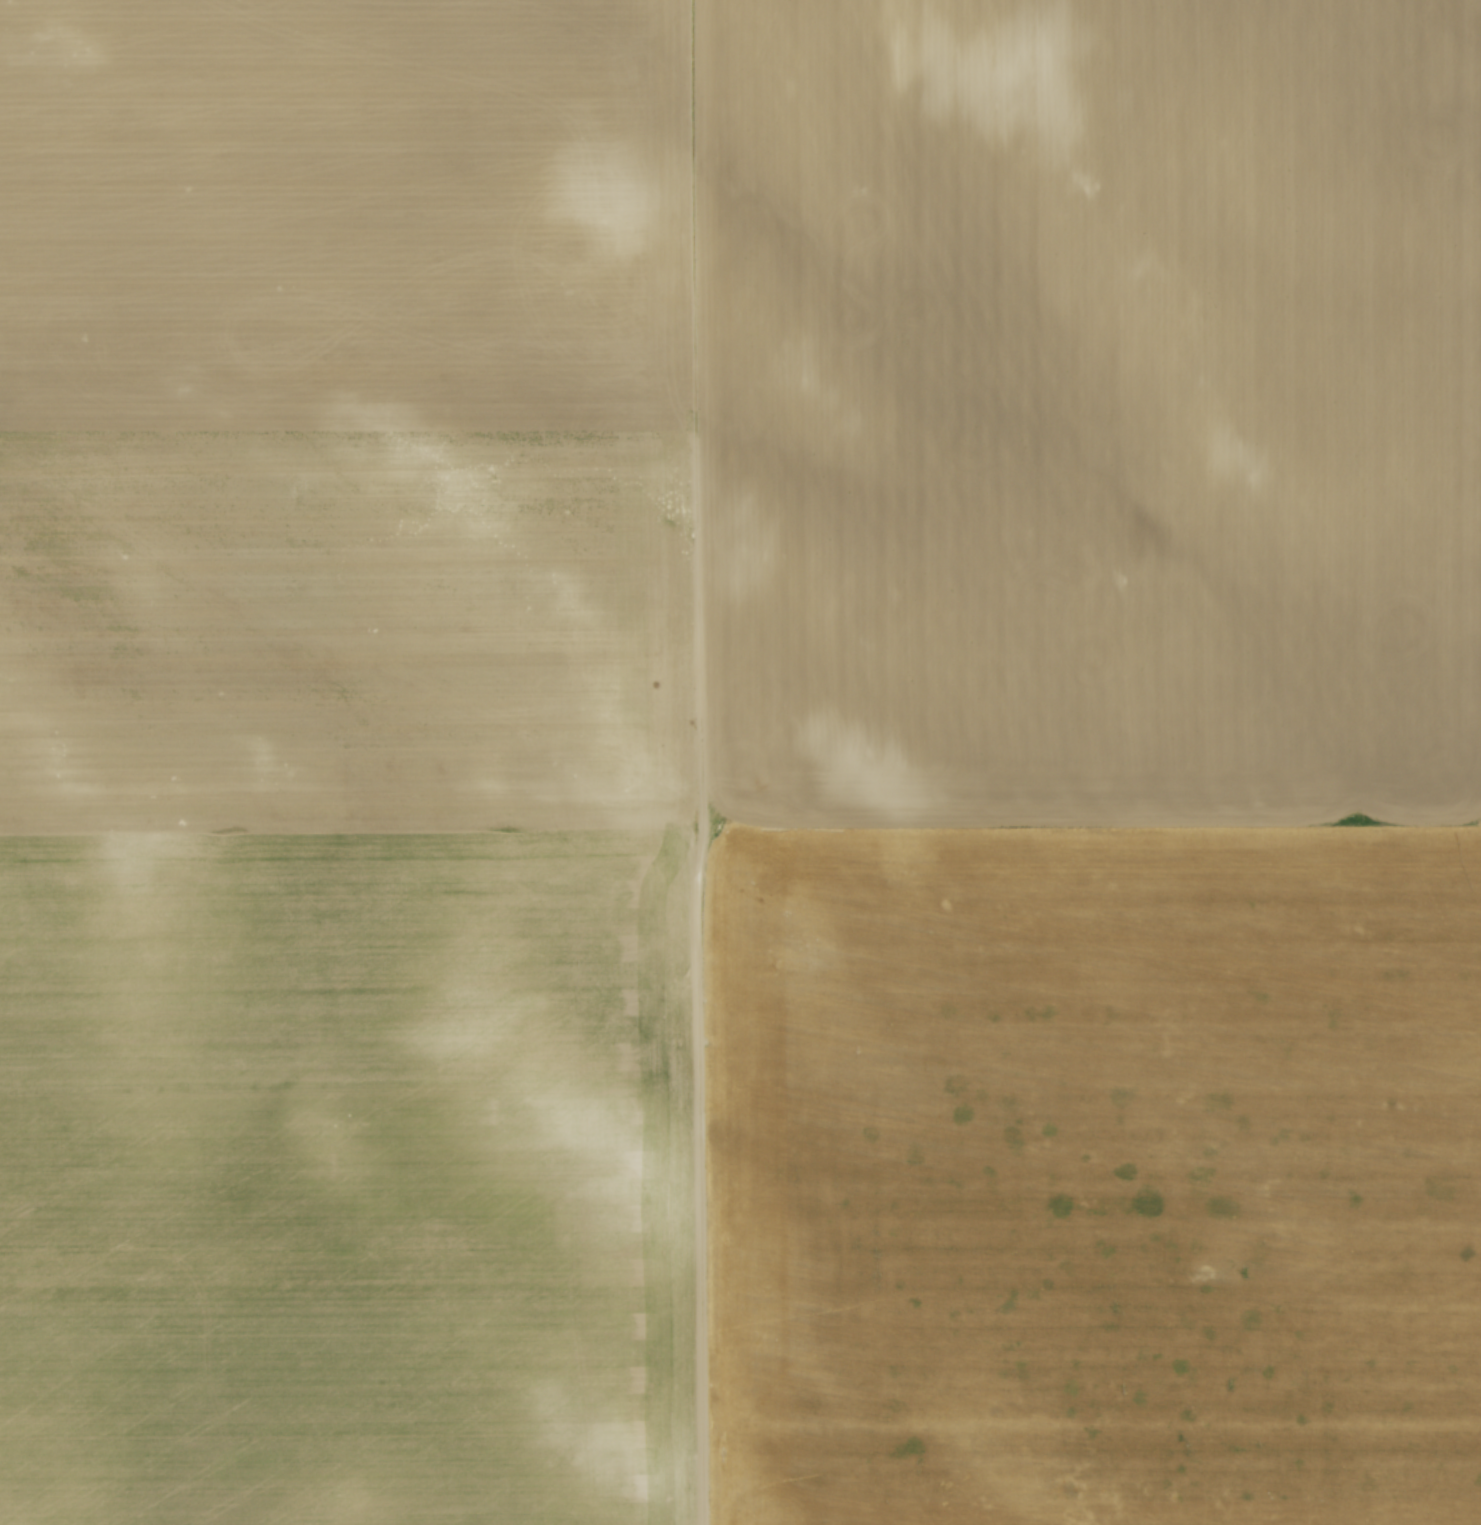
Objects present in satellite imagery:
crop: (740, 762)

